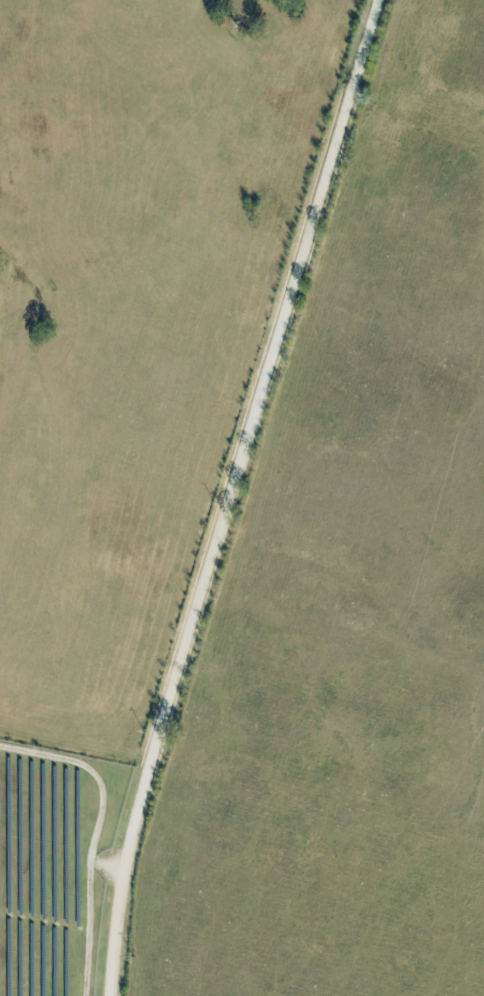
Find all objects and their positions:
road: (229, 494)

